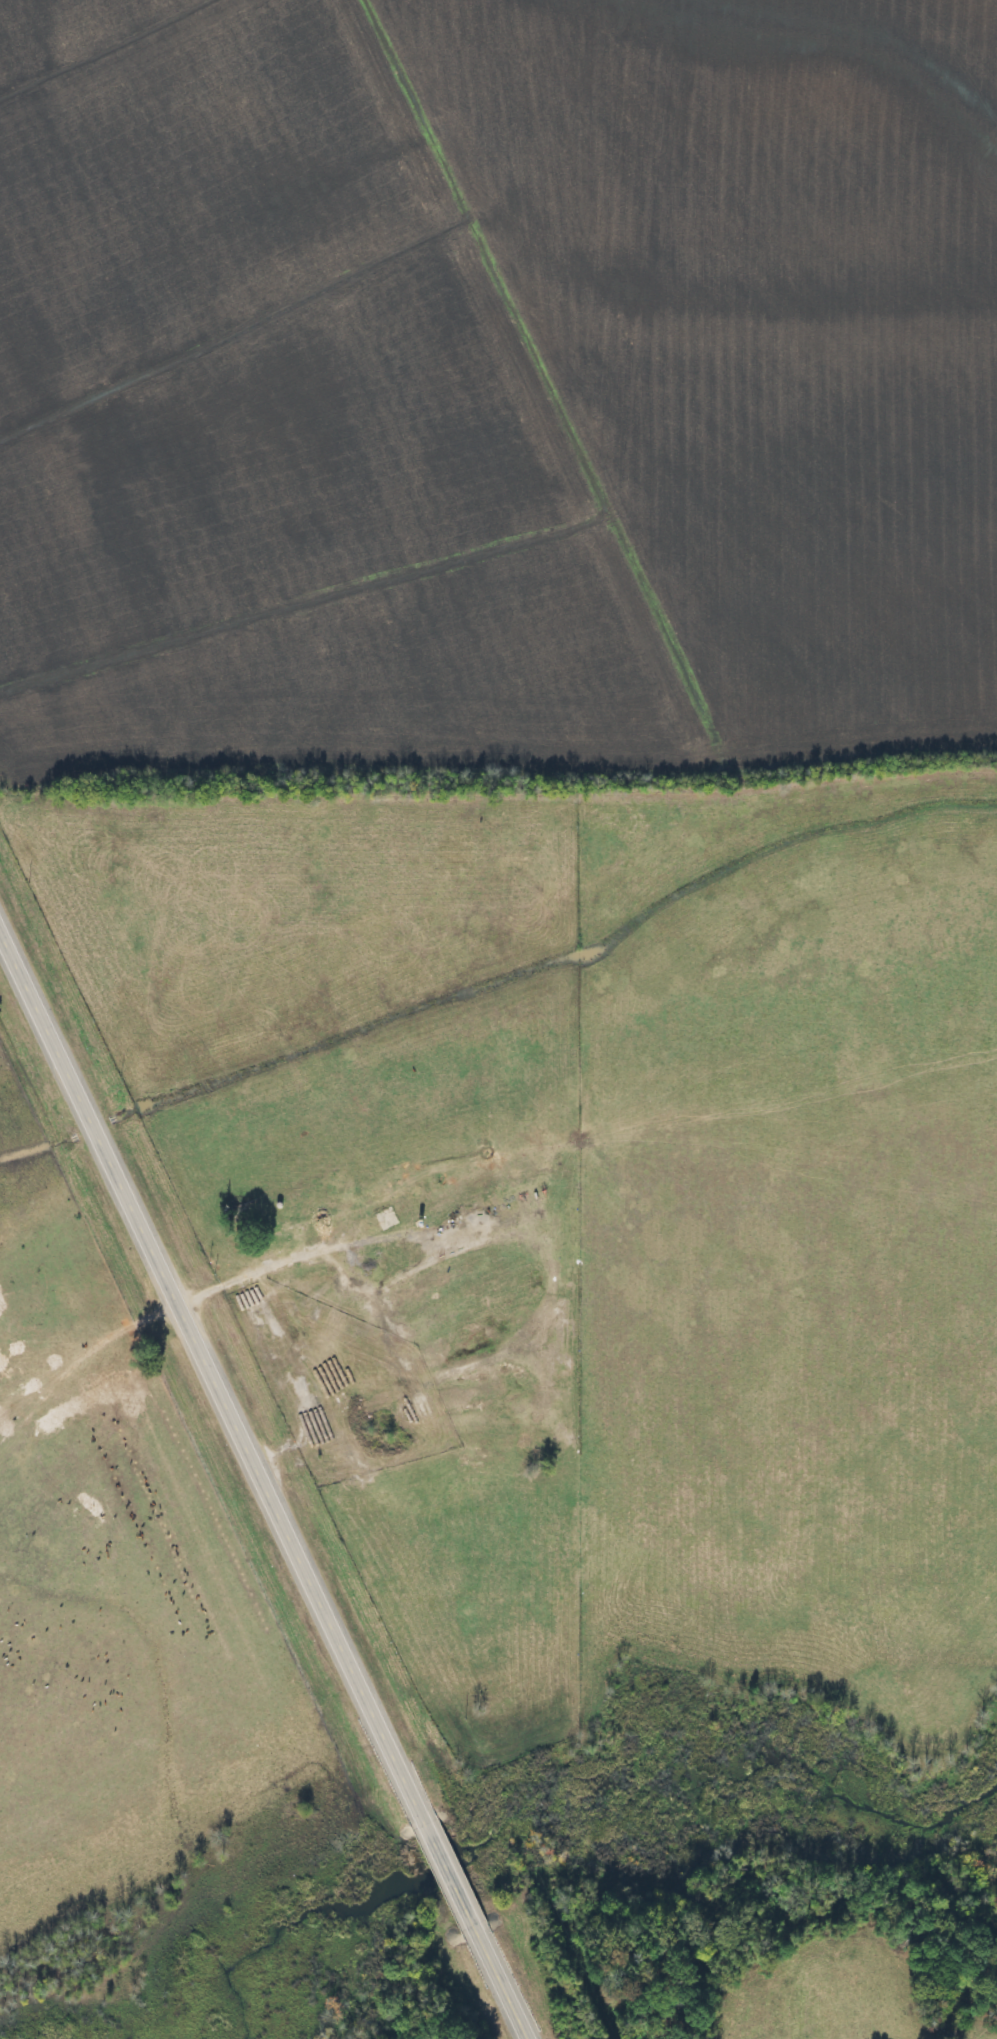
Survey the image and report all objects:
road: (210, 1379)
road: (449, 1877)
road: (502, 1986)

